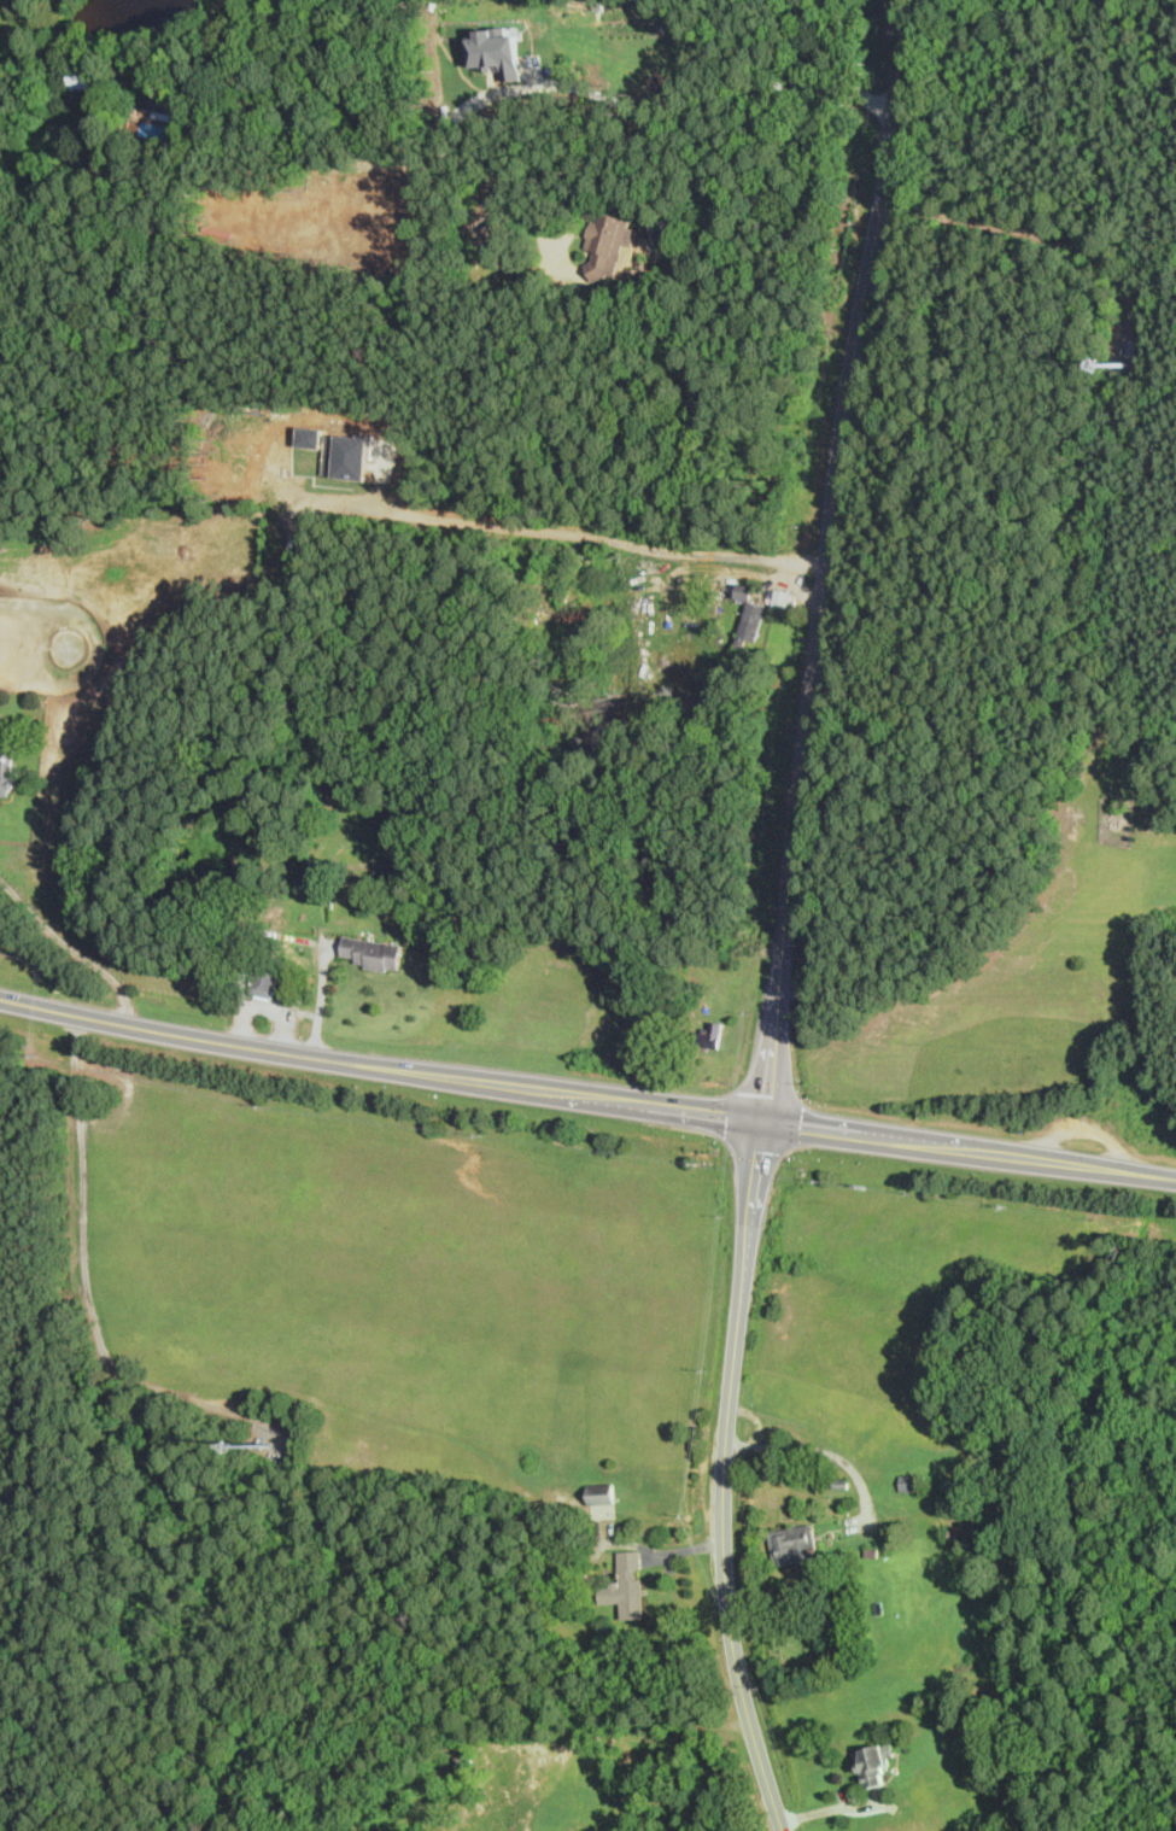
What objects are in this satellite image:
building: (497, 53)
building: (87, 76)
road: (526, 86)
building: (174, 106)
road: (542, 174)
building: (504, 232)
building: (616, 245)
road: (829, 560)
road: (696, 586)
building: (748, 592)
road: (801, 597)
building: (784, 599)
building: (754, 630)
building: (7, 770)
park: (1110, 791)
road: (78, 946)
building: (376, 953)
building: (269, 973)
road: (322, 991)
road: (268, 1011)
building: (710, 1036)
road: (737, 1039)
road: (381, 1064)
traffic signals: (766, 1122)
road: (1084, 1129)
road: (970, 1151)
road: (825, 1452)
road: (724, 1479)
building: (913, 1482)
building: (842, 1484)
building: (601, 1493)
building: (964, 1534)
building: (790, 1543)
road: (681, 1551)
building: (872, 1551)
building: (624, 1585)
park: (789, 1644)
road: (642, 1737)
building: (466, 1759)
building: (873, 1761)
road: (836, 1808)

